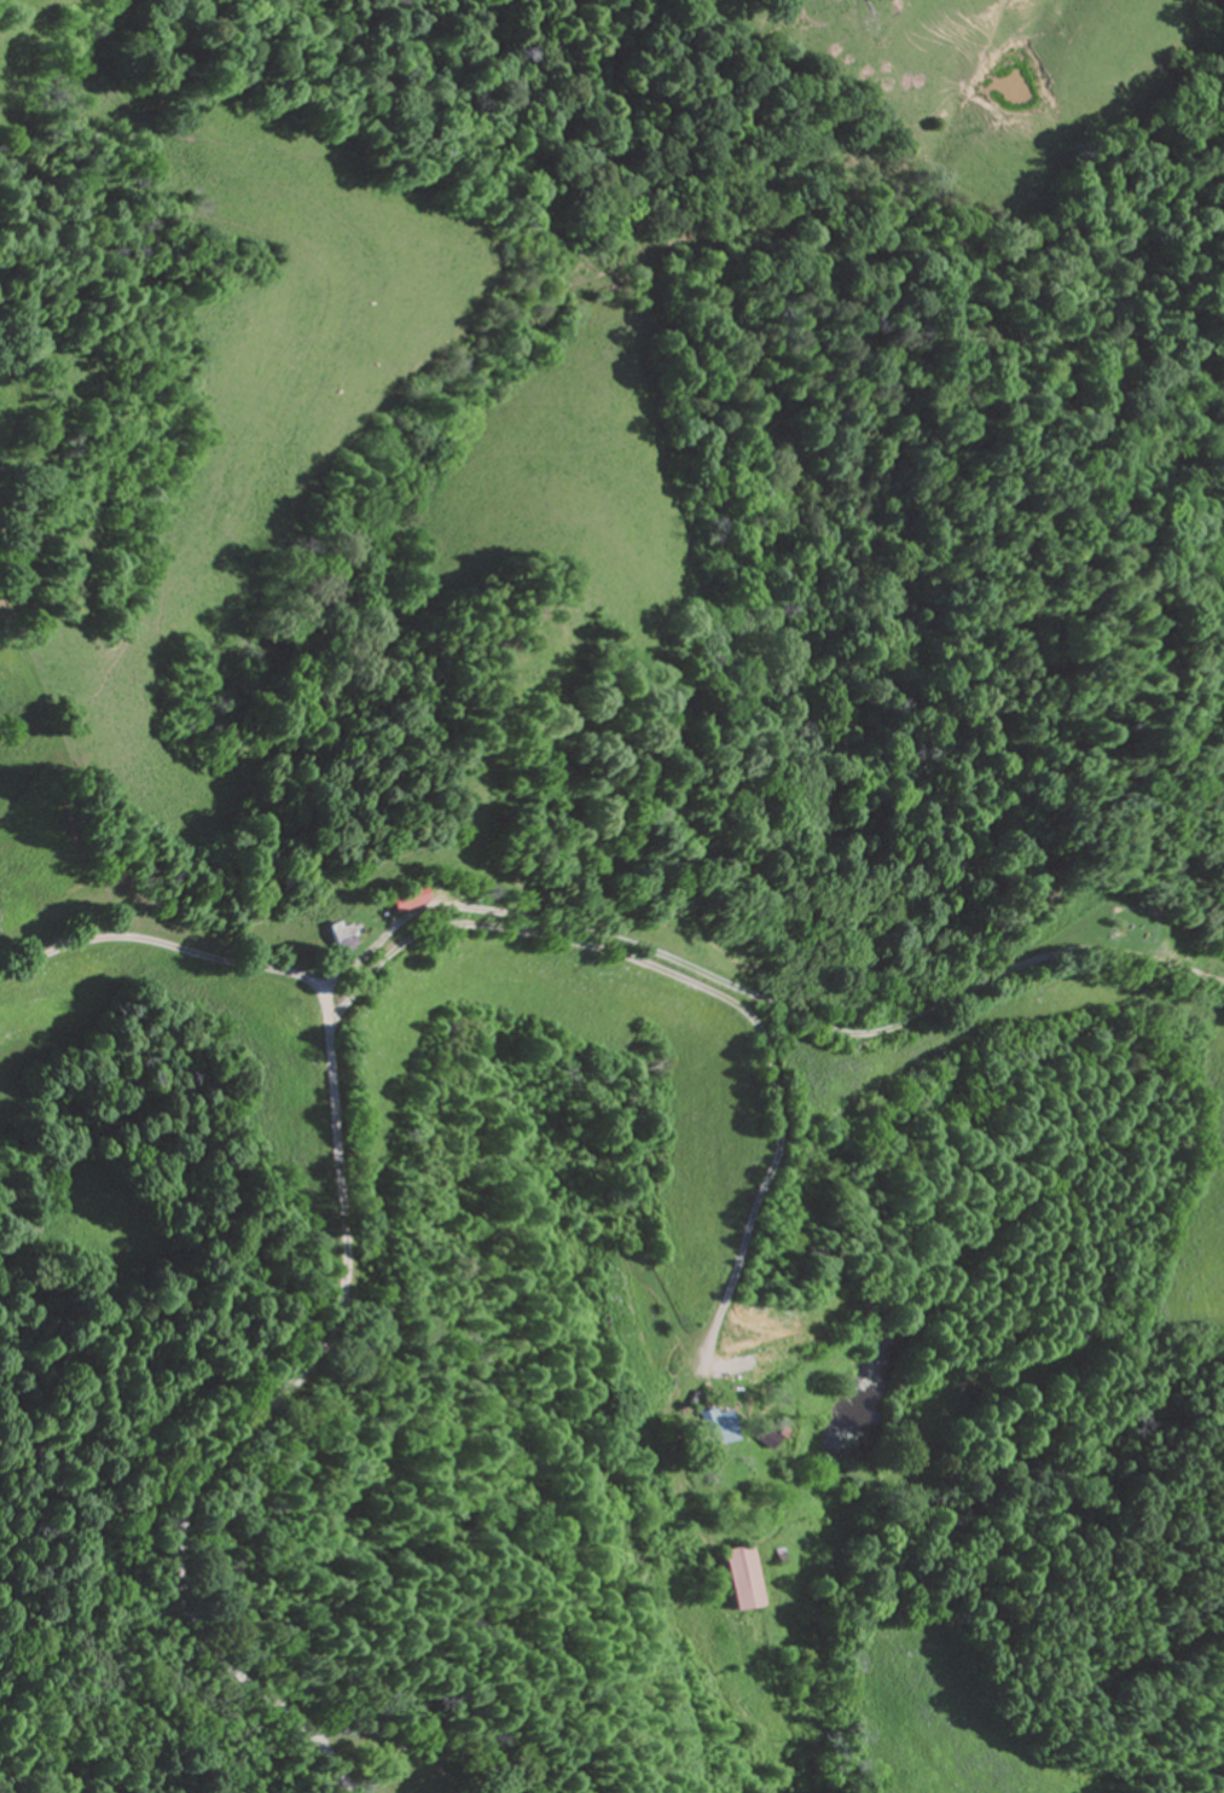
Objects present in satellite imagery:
building: (401, 900)
building: (338, 938)
road: (706, 996)
road: (342, 1287)
building: (726, 1427)
building: (747, 1579)

